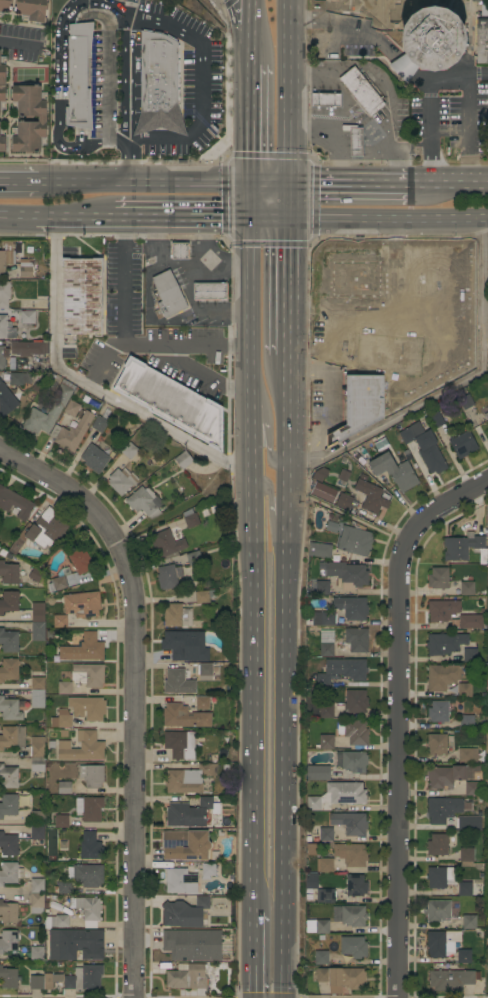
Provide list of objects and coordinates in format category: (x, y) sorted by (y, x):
road: (226, 1)
building: (5, 6)
building: (460, 6)
building: (483, 6)
road: (115, 7)
building: (31, 9)
road: (331, 9)
road: (238, 15)
road: (359, 19)
road: (250, 31)
parking lot: (23, 35)
road: (379, 41)
building: (481, 41)
building: (429, 42)
road: (58, 43)
road: (16, 45)
road: (331, 49)
parking lot: (194, 66)
road: (105, 68)
road: (404, 68)
building: (78, 76)
road: (439, 81)
road: (80, 82)
building: (2, 83)
building: (158, 85)
road: (206, 87)
building: (361, 91)
road: (286, 92)
building: (325, 99)
road: (125, 100)
gas station: (354, 112)
road: (467, 117)
building: (42, 119)
road: (250, 124)
road: (334, 131)
road: (432, 134)
road: (377, 136)
building: (355, 141)
gas station: (355, 141)
building: (2, 142)
road: (68, 142)
traffic signals: (250, 149)
road: (406, 149)
road: (19, 182)
road: (82, 183)
road: (187, 184)
road: (449, 184)
road: (268, 185)
traffic signals: (317, 185)
road: (349, 185)
road: (250, 200)
road: (287, 200)
road: (182, 215)
traffic signals: (217, 215)
road: (268, 215)
road: (17, 216)
road: (73, 216)
road: (387, 217)
road: (206, 240)
road: (139, 248)
traffic signals: (288, 248)
building: (180, 251)
gas station: (180, 251)
building: (6, 254)
road: (387, 262)
road: (180, 264)
building: (335, 266)
road: (434, 267)
building: (25, 269)
gas station: (183, 283)
road: (287, 284)
road: (189, 288)
building: (210, 291)
building: (4, 294)
building: (168, 295)
building: (80, 299)
road: (384, 307)
road: (222, 310)
building: (26, 317)
building: (3, 326)
road: (129, 341)
road: (191, 344)
building: (19, 350)
building: (19, 378)
building: (360, 384)
road: (446, 384)
road: (86, 386)
building: (59, 390)
building: (154, 395)
building: (465, 400)
building: (6, 402)
building: (71, 408)
building: (486, 415)
building: (435, 419)
building: (40, 420)
building: (99, 424)
road: (268, 431)
building: (71, 433)
building: (410, 436)
building: (463, 445)
building: (129, 451)
building: (430, 453)
building: (94, 459)
building: (183, 460)
building: (394, 471)
building: (122, 481)
building: (371, 497)
building: (344, 501)
building: (144, 502)
building: (14, 504)
road: (272, 511)
road: (345, 517)
building: (190, 518)
building: (487, 527)
building: (47, 529)
building: (355, 540)
building: (170, 542)
building: (15, 546)
building: (464, 548)
building: (319, 550)
building: (195, 557)
building: (80, 561)
road: (252, 564)
building: (9, 574)
building: (346, 574)
building: (37, 576)
building: (168, 576)
building: (438, 578)
building: (59, 581)
building: (322, 587)
building: (467, 587)
building: (202, 596)
building: (9, 601)
building: (82, 604)
building: (351, 607)
building: (442, 610)
building: (177, 616)
building: (321, 618)
building: (59, 621)
building: (37, 622)
building: (471, 622)
building: (356, 640)
building: (9, 641)
building: (327, 643)
building: (445, 643)
building: (181, 645)
building: (83, 649)
building: (470, 655)
building: (487, 659)
building: (9, 669)
building: (341, 671)
building: (205, 672)
building: (88, 675)
road: (284, 676)
building: (442, 677)
building: (174, 681)
building: (64, 687)
building: (465, 690)
building: (37, 692)
road: (134, 695)
building: (355, 702)
building: (202, 703)
building: (87, 708)
building: (10, 709)
building: (326, 711)
building: (438, 711)
building: (184, 717)
road: (398, 717)
building: (62, 720)
building: (466, 722)
building: (353, 731)
building: (12, 737)
building: (325, 742)
building: (180, 744)
building: (436, 744)
building: (37, 747)
building: (81, 747)
building: (468, 755)
building: (354, 761)
building: (37, 766)
building: (316, 772)
building: (91, 775)
building: (8, 776)
building: (445, 776)
building: (188, 779)
building: (64, 787)
building: (473, 789)
building: (337, 796)
building: (8, 804)
building: (89, 808)
building: (443, 809)
building: (191, 813)
building: (37, 818)
building: (61, 821)
building: (350, 822)
building: (468, 823)
building: (37, 833)
building: (326, 834)
building: (8, 845)
building: (185, 845)
building: (437, 845)
building: (90, 846)
building: (351, 854)
building: (465, 856)
building: (326, 865)
building: (208, 870)
building: (8, 872)
building: (86, 875)
building: (439, 876)
building: (180, 881)
building: (311, 881)
building: (355, 885)
building: (36, 886)
building: (62, 888)
building: (465, 889)
building: (327, 896)
building: (36, 903)
building: (87, 909)
building: (437, 910)
building: (185, 911)
building: (8, 912)
building: (353, 916)
building: (59, 921)
building: (469, 922)
building: (322, 926)
building: (8, 940)
building: (441, 943)
building: (75, 944)
building: (192, 944)
building: (353, 947)
building: (36, 954)
road: (253, 956)
building: (463, 956)
building: (321, 957)
building: (8, 978)
building: (84, 978)
building: (187, 978)
building: (341, 978)
building: (450, 980)
building: (44, 981)

